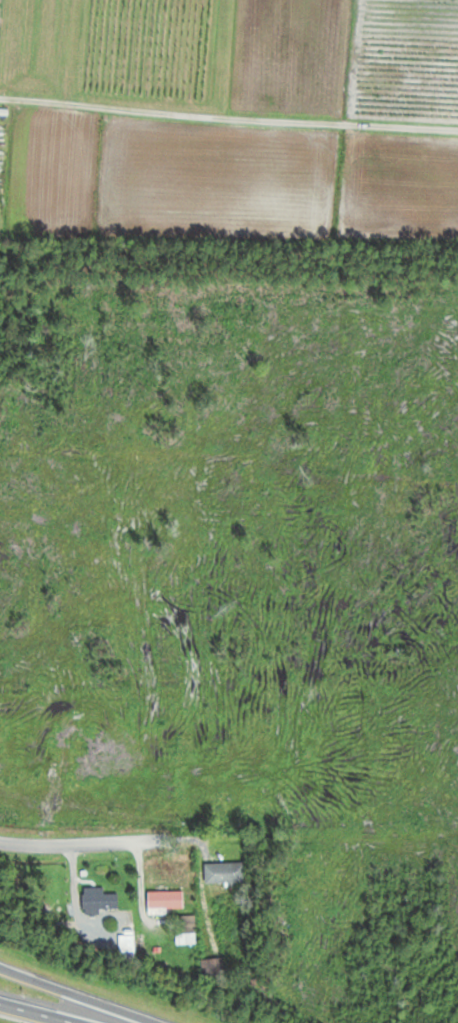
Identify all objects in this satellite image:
road: (228, 117)
road: (80, 834)
building: (229, 889)
building: (98, 899)
building: (164, 899)
building: (187, 930)
building: (209, 967)
road: (70, 996)
road: (32, 1013)

